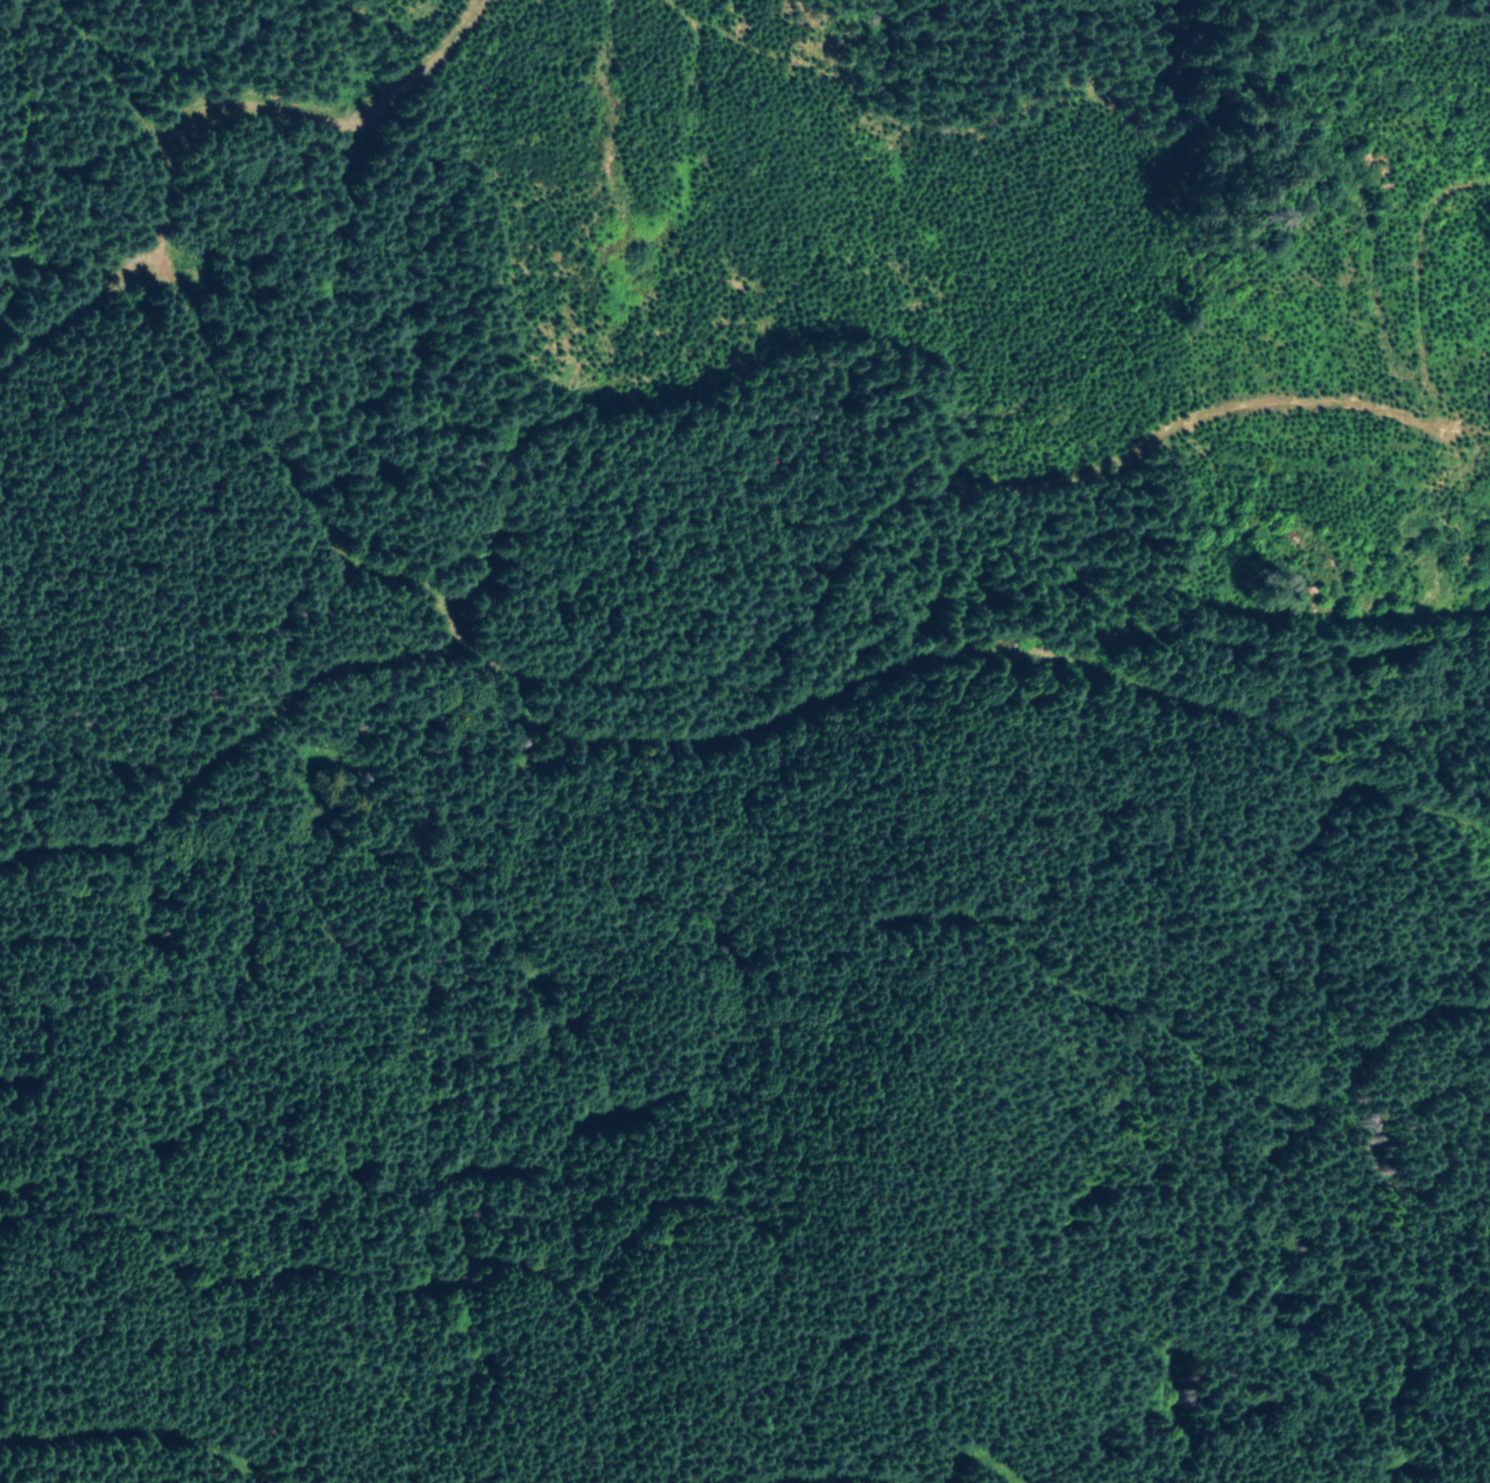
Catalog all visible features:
road: (280, 108)
road: (74, 316)
road: (833, 551)
road: (1002, 648)
road: (229, 754)
road: (1483, 859)
road: (1187, 1049)
road: (147, 1433)
road: (979, 1455)
road: (836, 1482)

